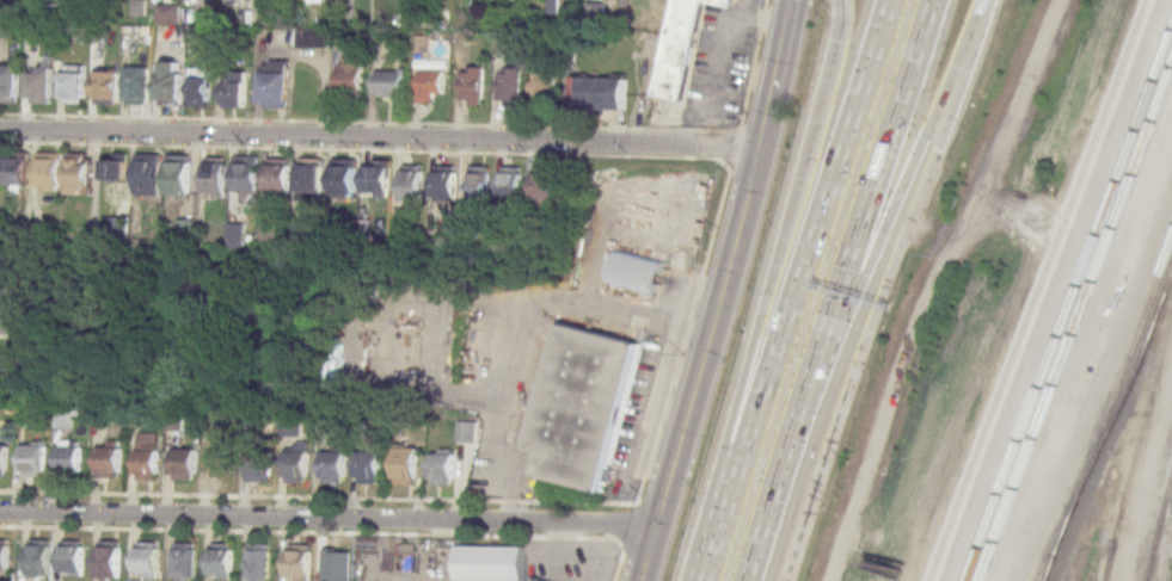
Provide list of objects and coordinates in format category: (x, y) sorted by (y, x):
building: (728, 0)
road: (976, 0)
building: (415, 4)
building: (675, 48)
building: (350, 75)
building: (39, 82)
building: (168, 82)
building: (389, 82)
building: (8, 84)
building: (431, 84)
building: (136, 85)
building: (472, 85)
building: (508, 85)
building: (544, 85)
building: (72, 86)
building: (105, 86)
building: (198, 86)
building: (233, 88)
building: (274, 88)
building: (597, 92)
road: (380, 136)
building: (48, 169)
building: (13, 171)
building: (111, 172)
building: (76, 173)
building: (147, 174)
building: (177, 174)
building: (246, 175)
building: (281, 178)
building: (214, 179)
building: (313, 179)
building: (348, 179)
building: (380, 179)
building: (481, 184)
building: (447, 185)
building: (514, 185)
building: (546, 186)
building: (415, 187)
road: (889, 199)
building: (238, 236)
road: (783, 264)
building: (633, 271)
building: (4, 283)
road: (792, 290)
road: (835, 290)
road: (882, 291)
road: (722, 292)
road: (8, 323)
railway: (1136, 361)
building: (0, 370)
building: (584, 407)
railway: (1109, 408)
road: (504, 420)
railway: (1139, 428)
building: (466, 433)
building: (146, 455)
building: (67, 458)
building: (31, 459)
building: (109, 459)
building: (2, 462)
building: (184, 463)
building: (220, 463)
building: (295, 463)
building: (405, 463)
building: (332, 464)
building: (367, 465)
building: (442, 468)
building: (259, 470)
road: (329, 518)
railway: (1158, 523)
railway: (1167, 531)
building: (5, 555)
building: (39, 556)
building: (72, 557)
building: (184, 558)
building: (222, 558)
building: (110, 560)
building: (147, 560)
building: (300, 561)
building: (490, 561)
building: (333, 562)
building: (259, 563)
railway: (1044, 579)
railway: (1102, 580)

